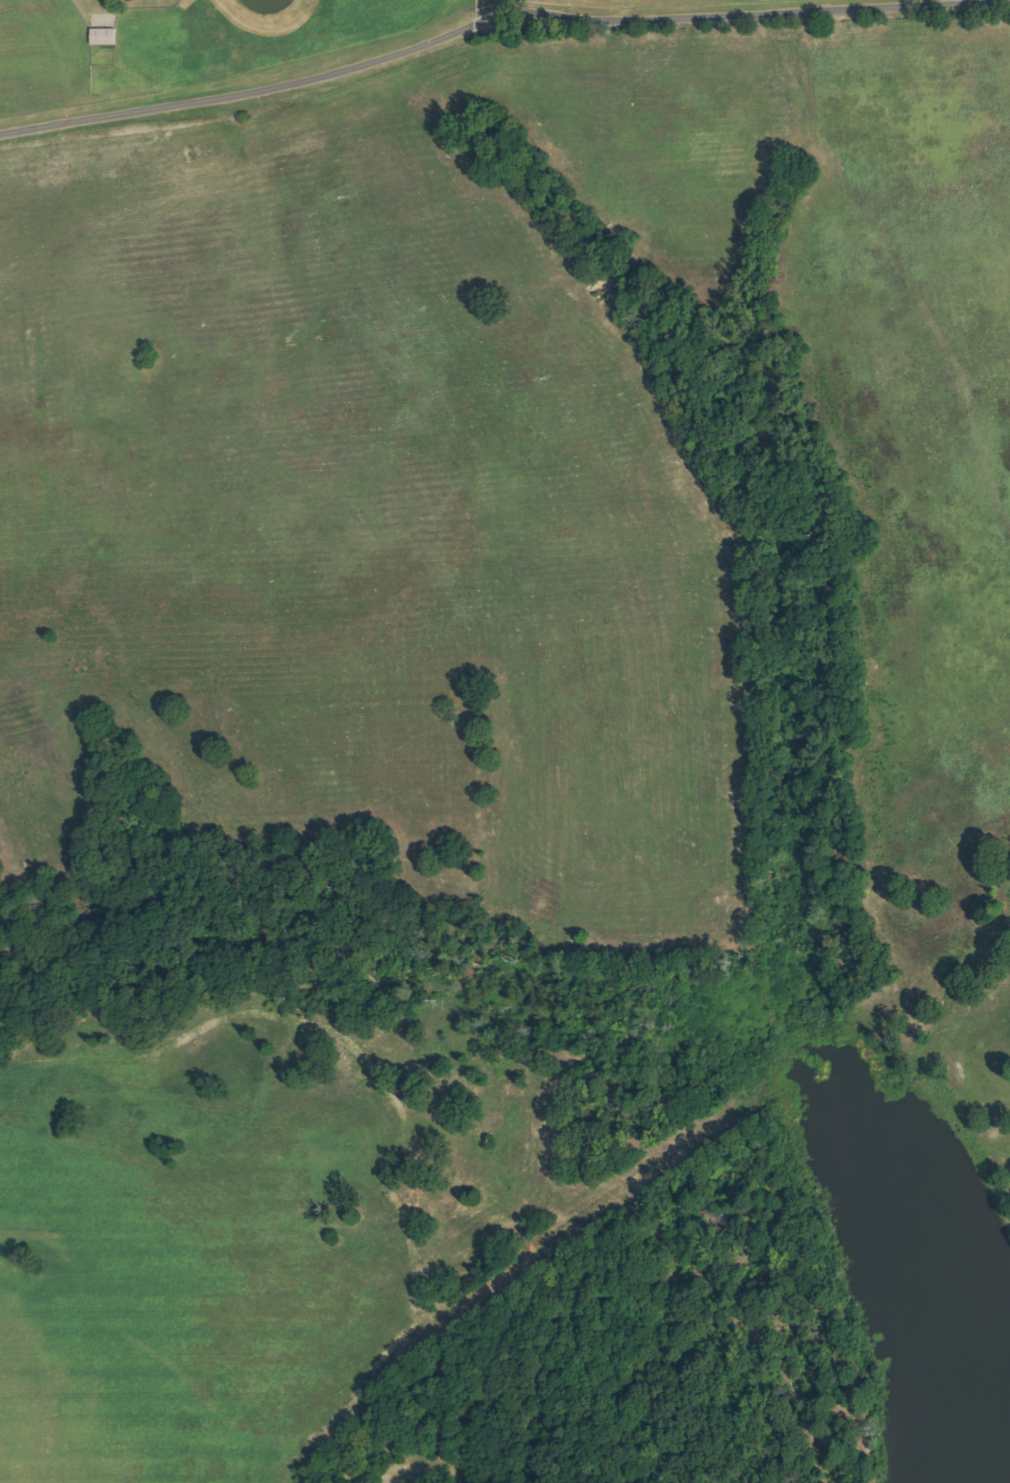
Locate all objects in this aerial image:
road: (496, 13)
building: (106, 37)

